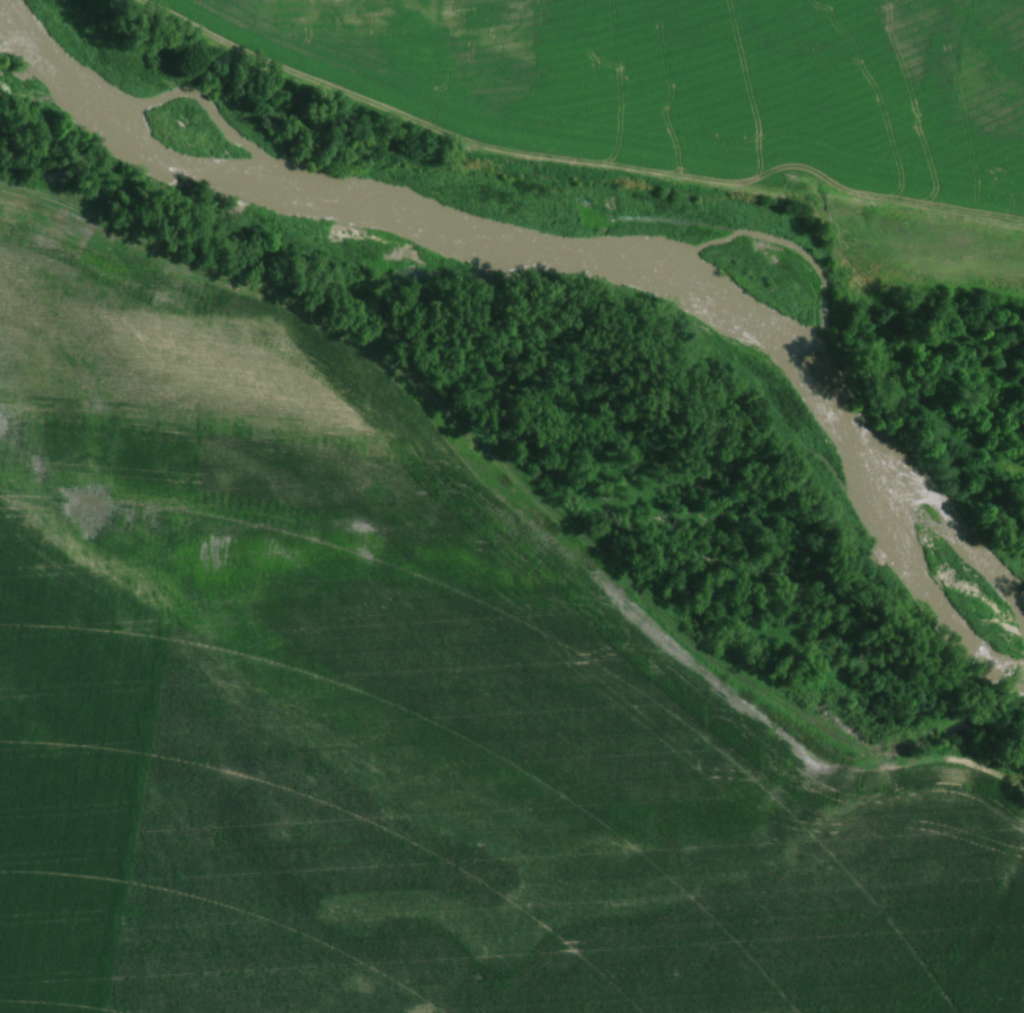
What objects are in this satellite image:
river: (587, 259)

